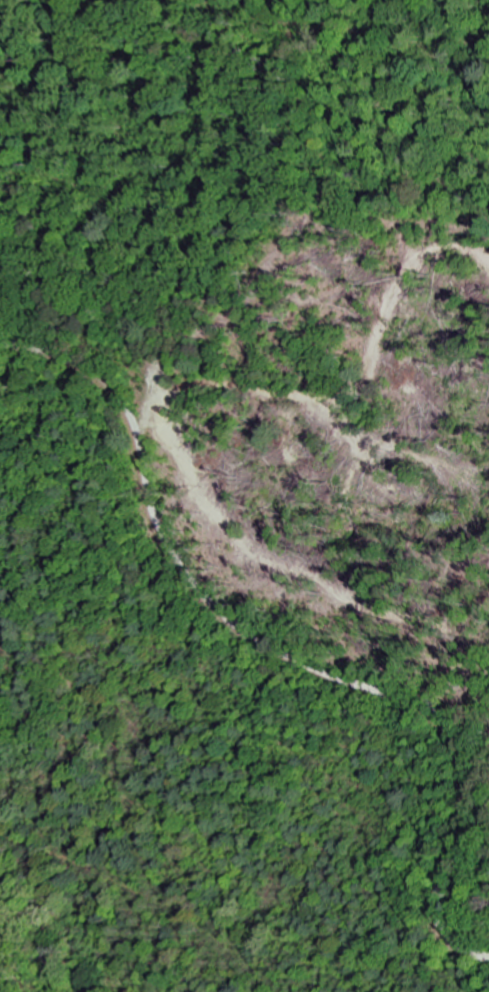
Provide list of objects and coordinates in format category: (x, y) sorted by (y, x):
road: (282, 649)
road: (132, 898)

